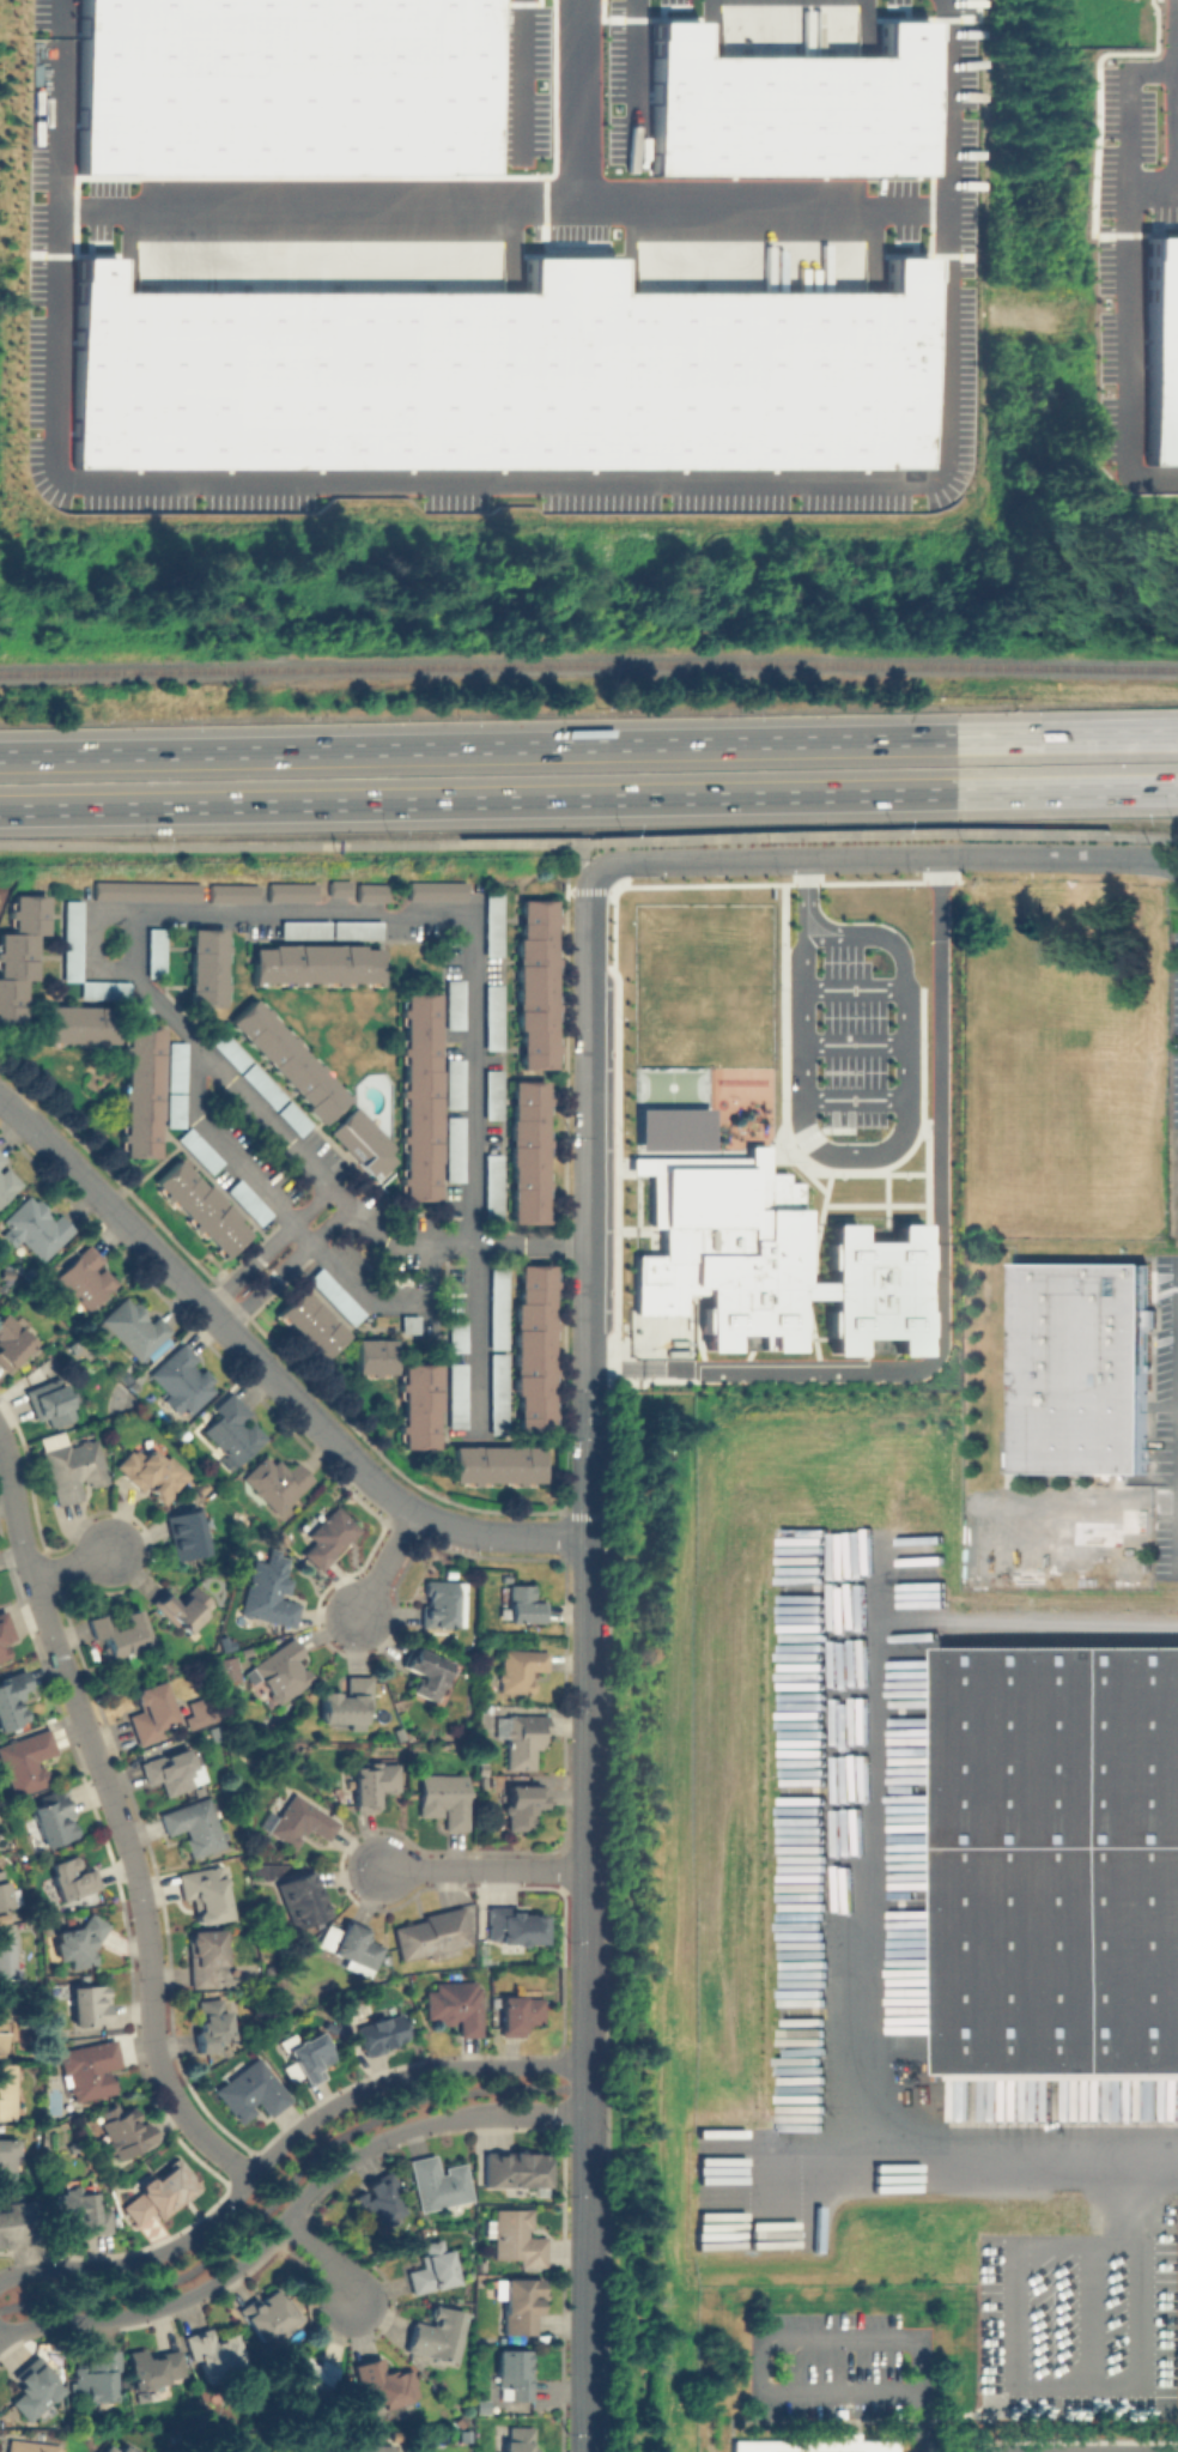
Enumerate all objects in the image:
road: (1177, 59)
road: (522, 75)
building: (293, 90)
road: (1177, 97)
building: (801, 105)
road: (1128, 111)
road: (1177, 120)
road: (1177, 195)
road: (760, 213)
road: (423, 217)
road: (1128, 337)
building: (1161, 349)
building: (516, 373)
road: (500, 491)
railway: (588, 670)
road: (589, 743)
road: (589, 799)
road: (589, 840)
road: (1056, 856)
road: (583, 858)
road: (760, 860)
road: (803, 879)
building: (336, 889)
building: (142, 891)
building: (433, 891)
building: (289, 892)
building: (231, 895)
building: (371, 896)
road: (376, 916)
building: (493, 925)
building: (357, 930)
building: (304, 931)
road: (849, 938)
building: (69, 942)
building: (17, 949)
building: (156, 955)
building: (314, 964)
building: (201, 967)
building: (534, 983)
building: (794, 987)
road: (852, 988)
building: (102, 991)
road: (164, 1007)
building: (454, 1007)
building: (138, 1009)
building: (493, 1018)
building: (660, 1023)
road: (852, 1043)
building: (224, 1049)
building: (287, 1057)
building: (175, 1065)
building: (454, 1082)
building: (261, 1086)
park: (670, 1086)
building: (491, 1091)
building: (419, 1097)
road: (854, 1097)
building: (139, 1100)
building: (878, 1100)
building: (921, 1100)
building: (171, 1110)
building: (293, 1119)
building: (672, 1127)
road: (585, 1130)
building: (365, 1142)
building: (454, 1148)
building: (528, 1149)
road: (887, 1149)
building: (198, 1150)
building: (1, 1156)
road: (303, 1158)
building: (830, 1160)
building: (900, 1160)
building: (8, 1186)
building: (492, 1187)
building: (248, 1201)
building: (199, 1209)
building: (35, 1227)
road: (306, 1237)
road: (512, 1242)
building: (763, 1258)
building: (86, 1276)
road: (939, 1282)
building: (333, 1295)
building: (498, 1307)
building: (412, 1322)
building: (306, 1324)
building: (132, 1327)
building: (457, 1334)
road: (479, 1338)
building: (12, 1340)
building: (533, 1348)
building: (374, 1357)
building: (1081, 1363)
road: (267, 1369)
building: (183, 1380)
building: (498, 1393)
building: (457, 1394)
building: (49, 1399)
building: (419, 1404)
building: (232, 1427)
building: (496, 1464)
building: (68, 1466)
building: (150, 1472)
building: (273, 1478)
building: (184, 1534)
building: (329, 1536)
road: (74, 1563)
road: (383, 1567)
building: (268, 1592)
building: (441, 1604)
building: (523, 1605)
building: (182, 1606)
building: (4, 1627)
building: (117, 1627)
railway: (1067, 1641)
building: (1, 1654)
building: (224, 1664)
building: (279, 1669)
building: (517, 1669)
building: (425, 1672)
building: (12, 1699)
building: (346, 1702)
building: (148, 1705)
building: (195, 1712)
building: (521, 1737)
building: (25, 1760)
building: (169, 1772)
building: (372, 1780)
building: (443, 1798)
building: (524, 1805)
building: (55, 1817)
road: (116, 1821)
building: (192, 1822)
building: (300, 1822)
building: (1061, 1855)
road: (481, 1870)
building: (73, 1878)
building: (201, 1888)
building: (2, 1893)
building: (303, 1897)
road: (587, 1919)
building: (514, 1926)
building: (430, 1933)
building: (79, 1941)
building: (351, 1944)
building: (204, 1955)
building: (6, 1958)
building: (91, 2004)
building: (454, 2004)
building: (518, 2014)
building: (1, 2028)
building: (210, 2029)
building: (383, 2032)
building: (310, 2053)
road: (848, 2064)
building: (86, 2069)
building: (7, 2090)
building: (248, 2090)
street lamp: (548, 2126)
building: (125, 2129)
road: (279, 2141)
street lamp: (385, 2145)
building: (6, 2161)
building: (515, 2168)
building: (437, 2182)
road: (281, 2191)
building: (160, 2192)
building: (377, 2200)
street lamp: (215, 2203)
road: (290, 2210)
building: (80, 2211)
building: (19, 2222)
building: (516, 2236)
road: (322, 2256)
street lamp: (40, 2258)
building: (432, 2268)
street lamp: (385, 2301)
building: (522, 2303)
building: (268, 2313)
road: (1068, 2313)
building: (436, 2331)
road: (779, 2333)
building: (217, 2356)
building: (151, 2368)
building: (305, 2375)
building: (514, 2377)
building: (93, 2379)
building: (383, 2384)
road: (1052, 2384)
building: (30, 2392)
building: (482, 2406)
road: (915, 2422)
building: (463, 2435)
building: (517, 2439)
building: (812, 2445)
building: (30, 2446)
building: (366, 2447)
building: (111, 2448)

